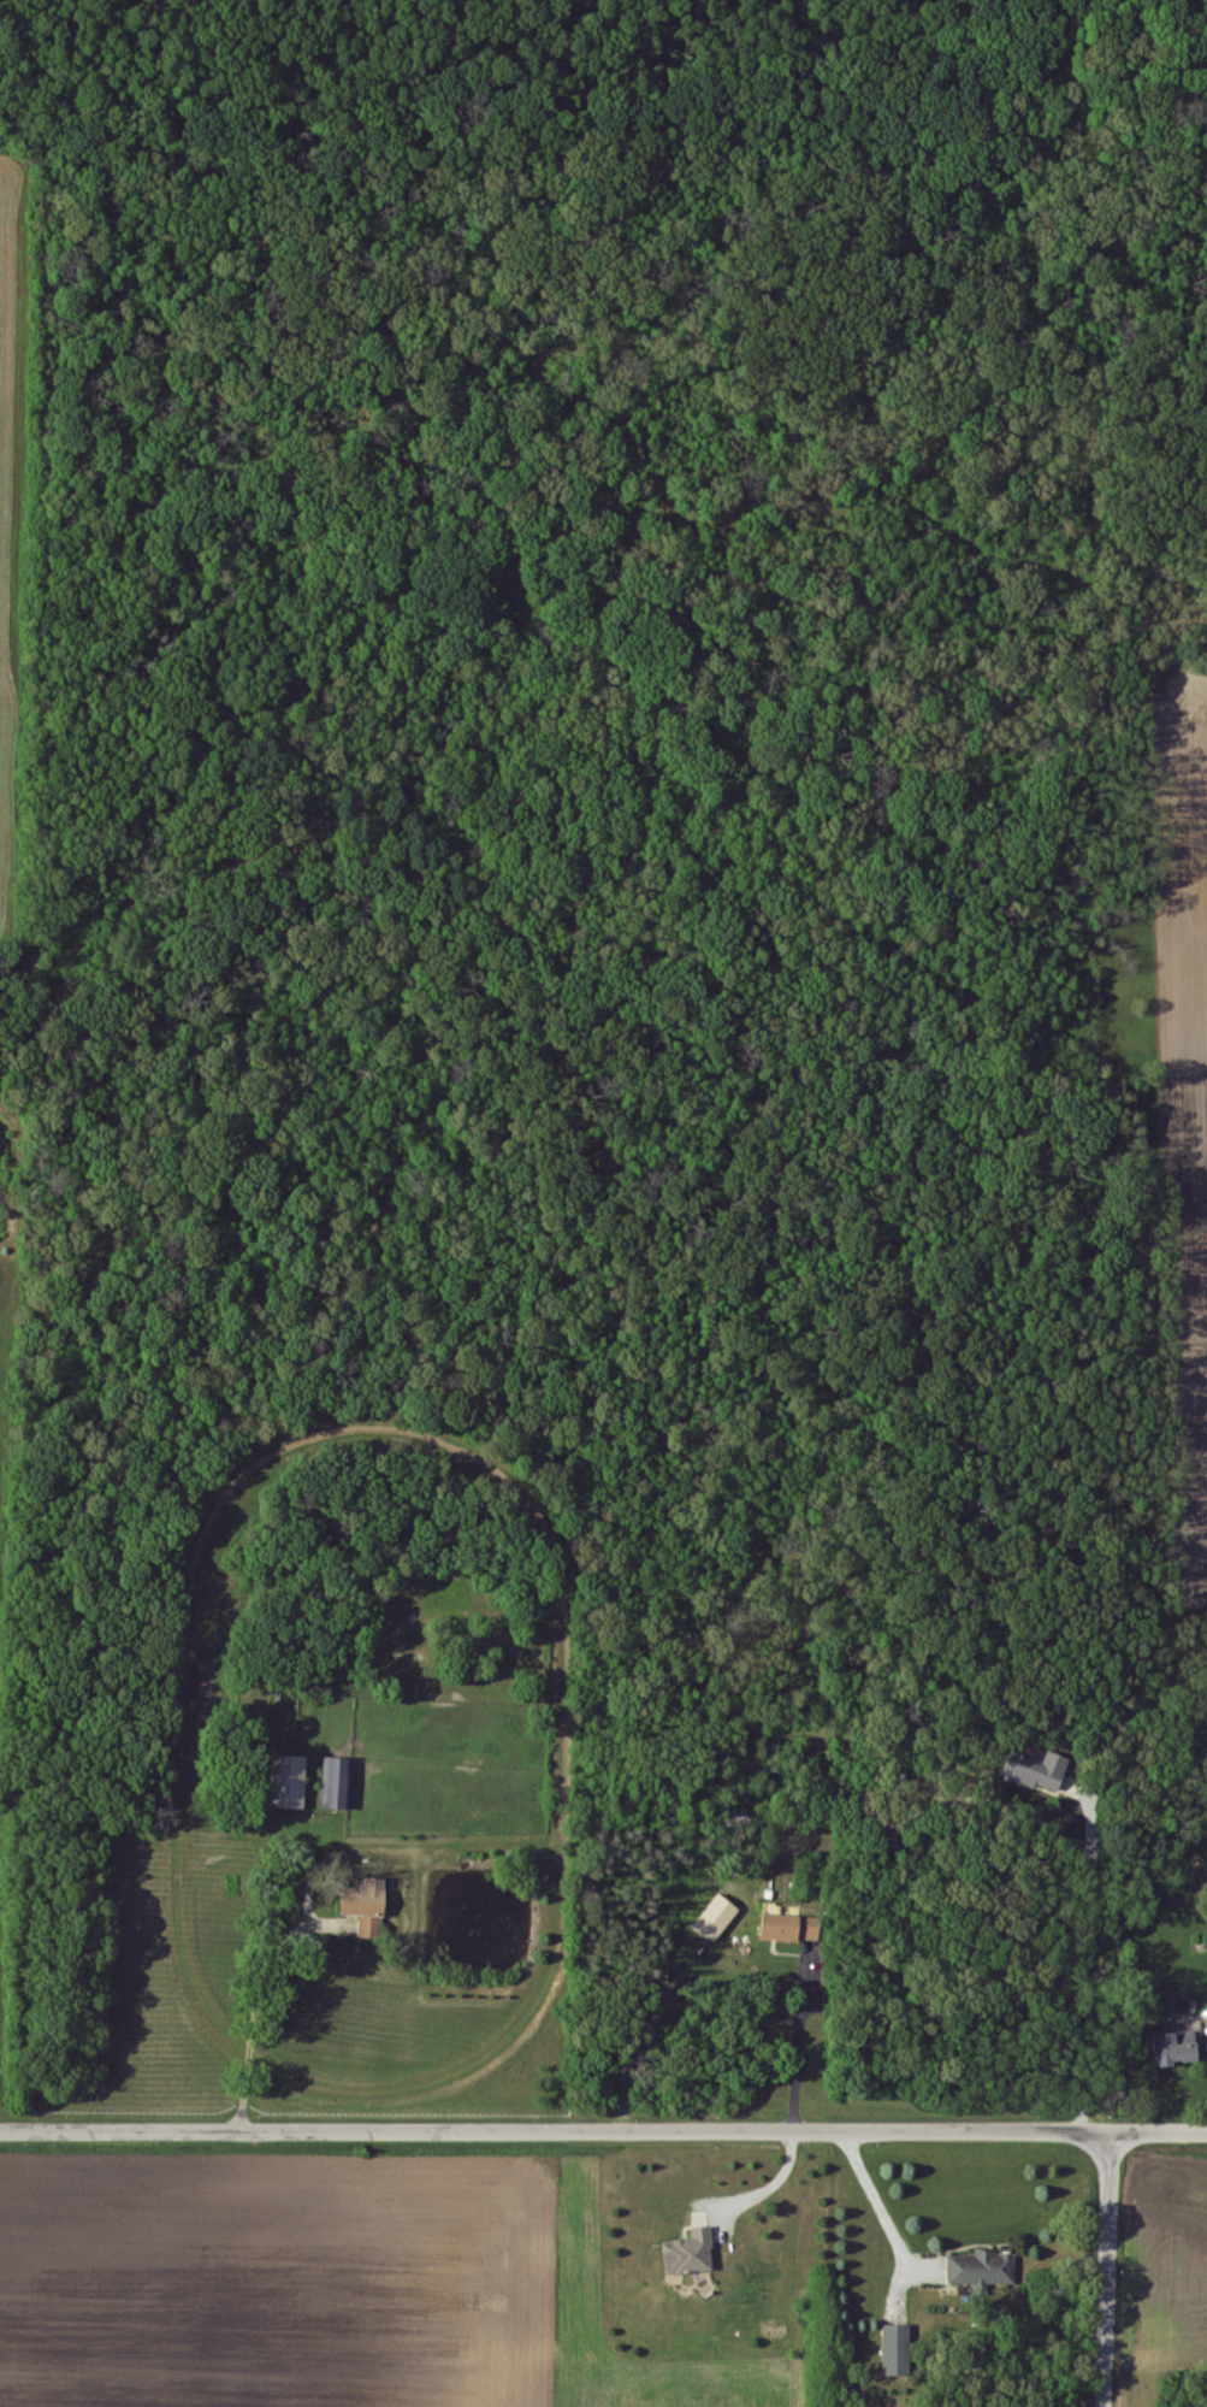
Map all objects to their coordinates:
building: (1036, 1771)
building: (288, 1782)
building: (338, 1784)
building: (365, 1907)
building: (716, 1919)
building: (789, 1929)
road: (1082, 1961)
road: (260, 2019)
road: (643, 2037)
road: (800, 2040)
building: (1173, 2049)
road: (603, 2130)
road: (771, 2185)
road: (874, 2195)
building: (690, 2254)
road: (1104, 2267)
building: (981, 2271)
building: (895, 2352)

